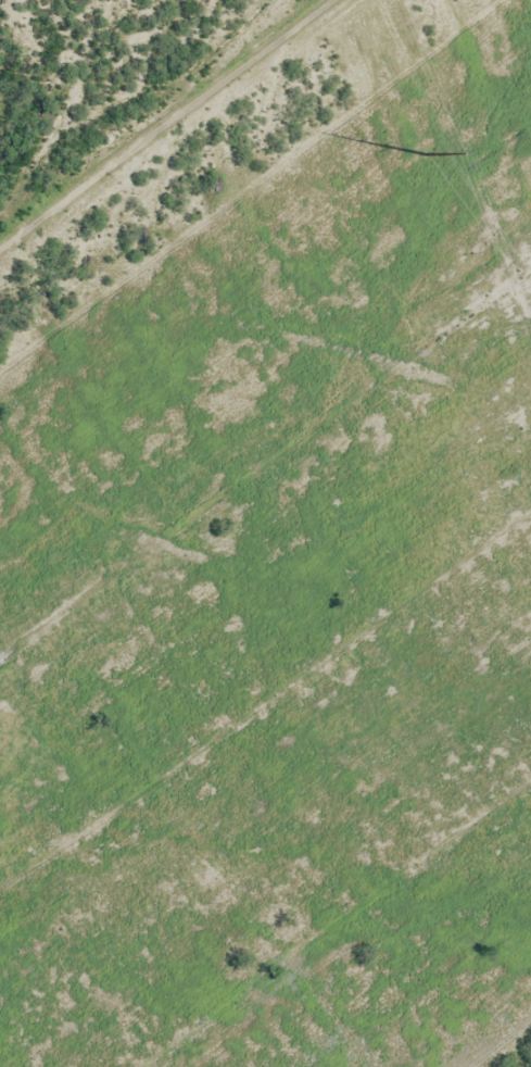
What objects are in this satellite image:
power tower: (469, 53)
power tower: (425, 153)

